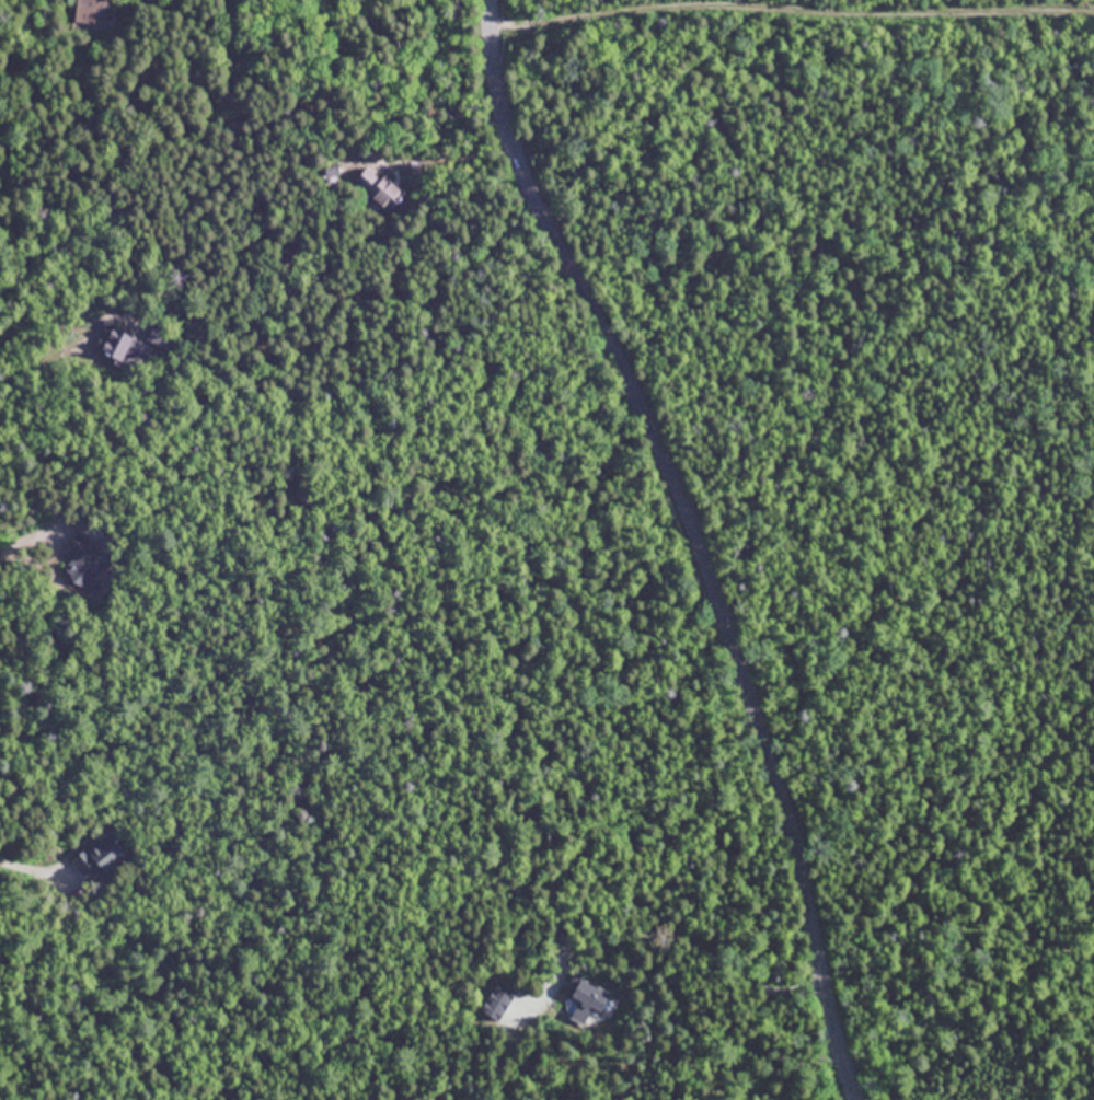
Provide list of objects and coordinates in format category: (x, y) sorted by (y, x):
road: (792, 9)
building: (90, 11)
building: (118, 345)
road: (690, 542)
building: (85, 561)
building: (97, 855)
building: (585, 993)

